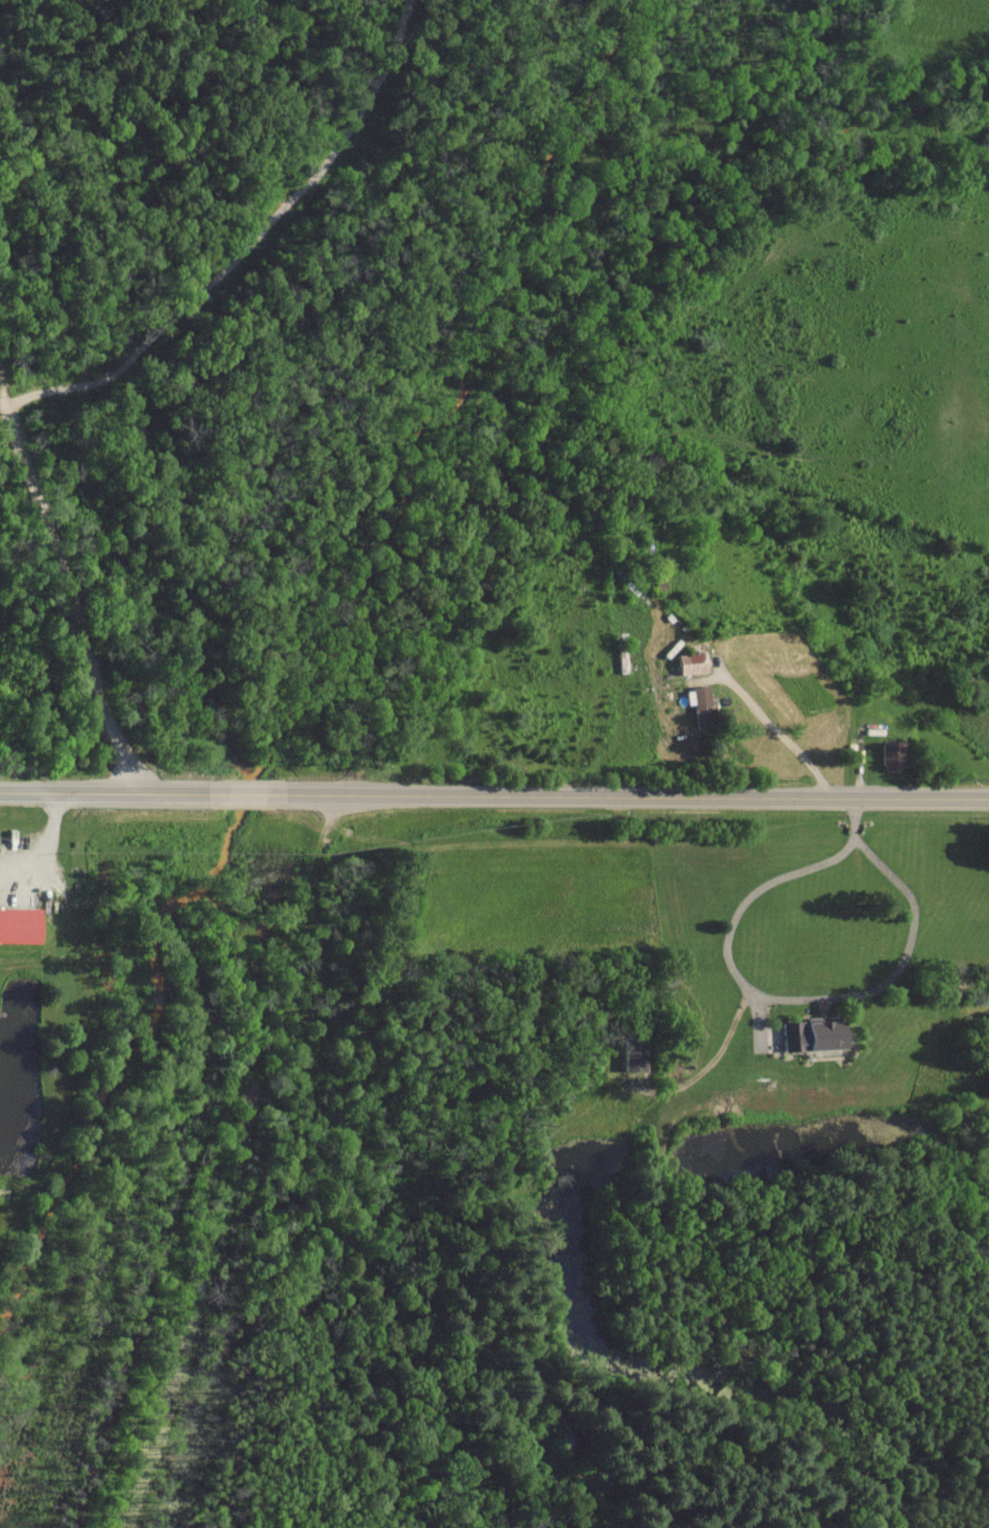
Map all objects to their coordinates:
road: (67, 590)
building: (695, 662)
building: (703, 704)
road: (781, 731)
building: (896, 754)
road: (104, 787)
road: (248, 794)
road: (638, 797)
building: (22, 924)
road: (772, 997)
building: (819, 1033)
building: (637, 1052)

